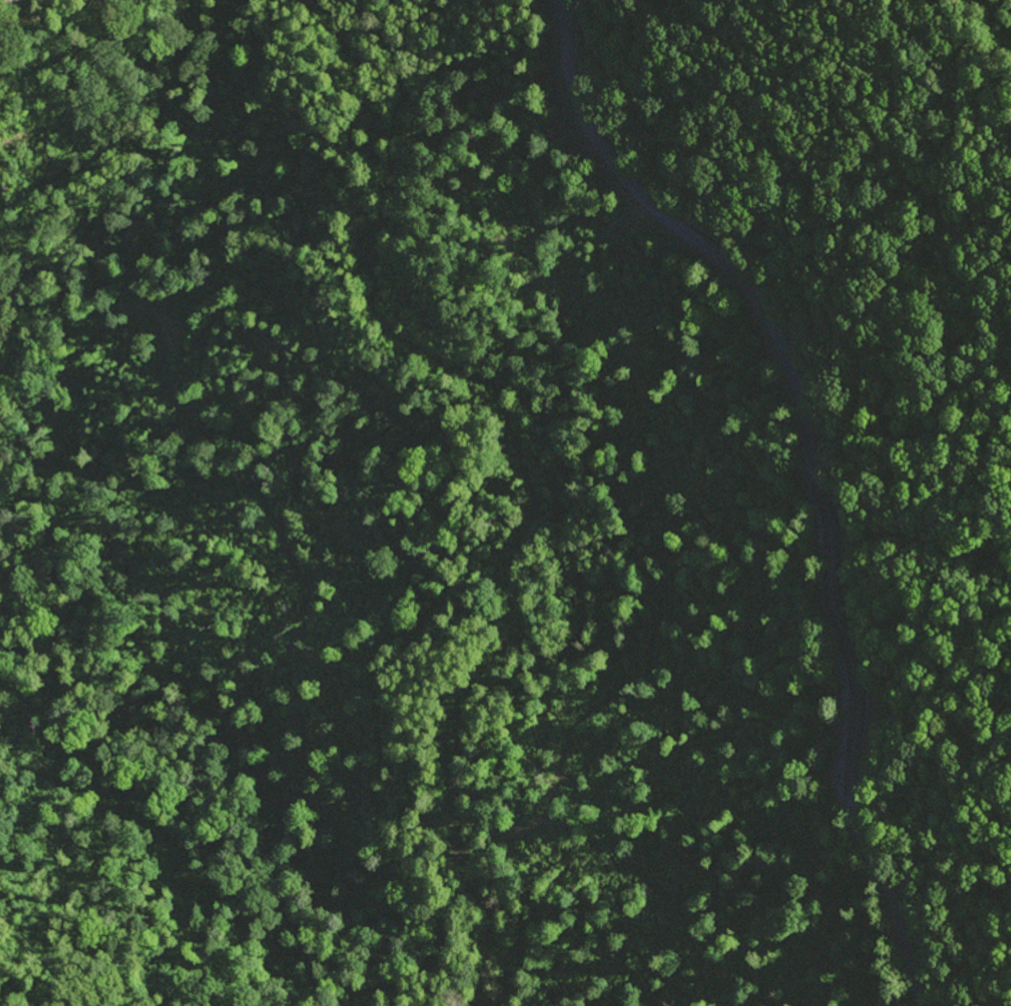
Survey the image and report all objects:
road: (814, 469)

